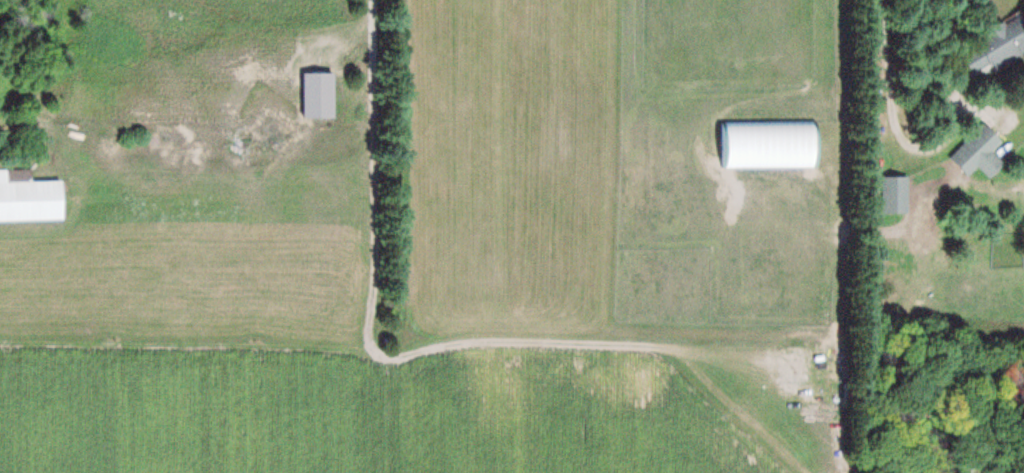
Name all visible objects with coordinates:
building: (1004, 42)
road: (369, 46)
road: (883, 59)
building: (768, 144)
building: (978, 152)
building: (32, 201)

